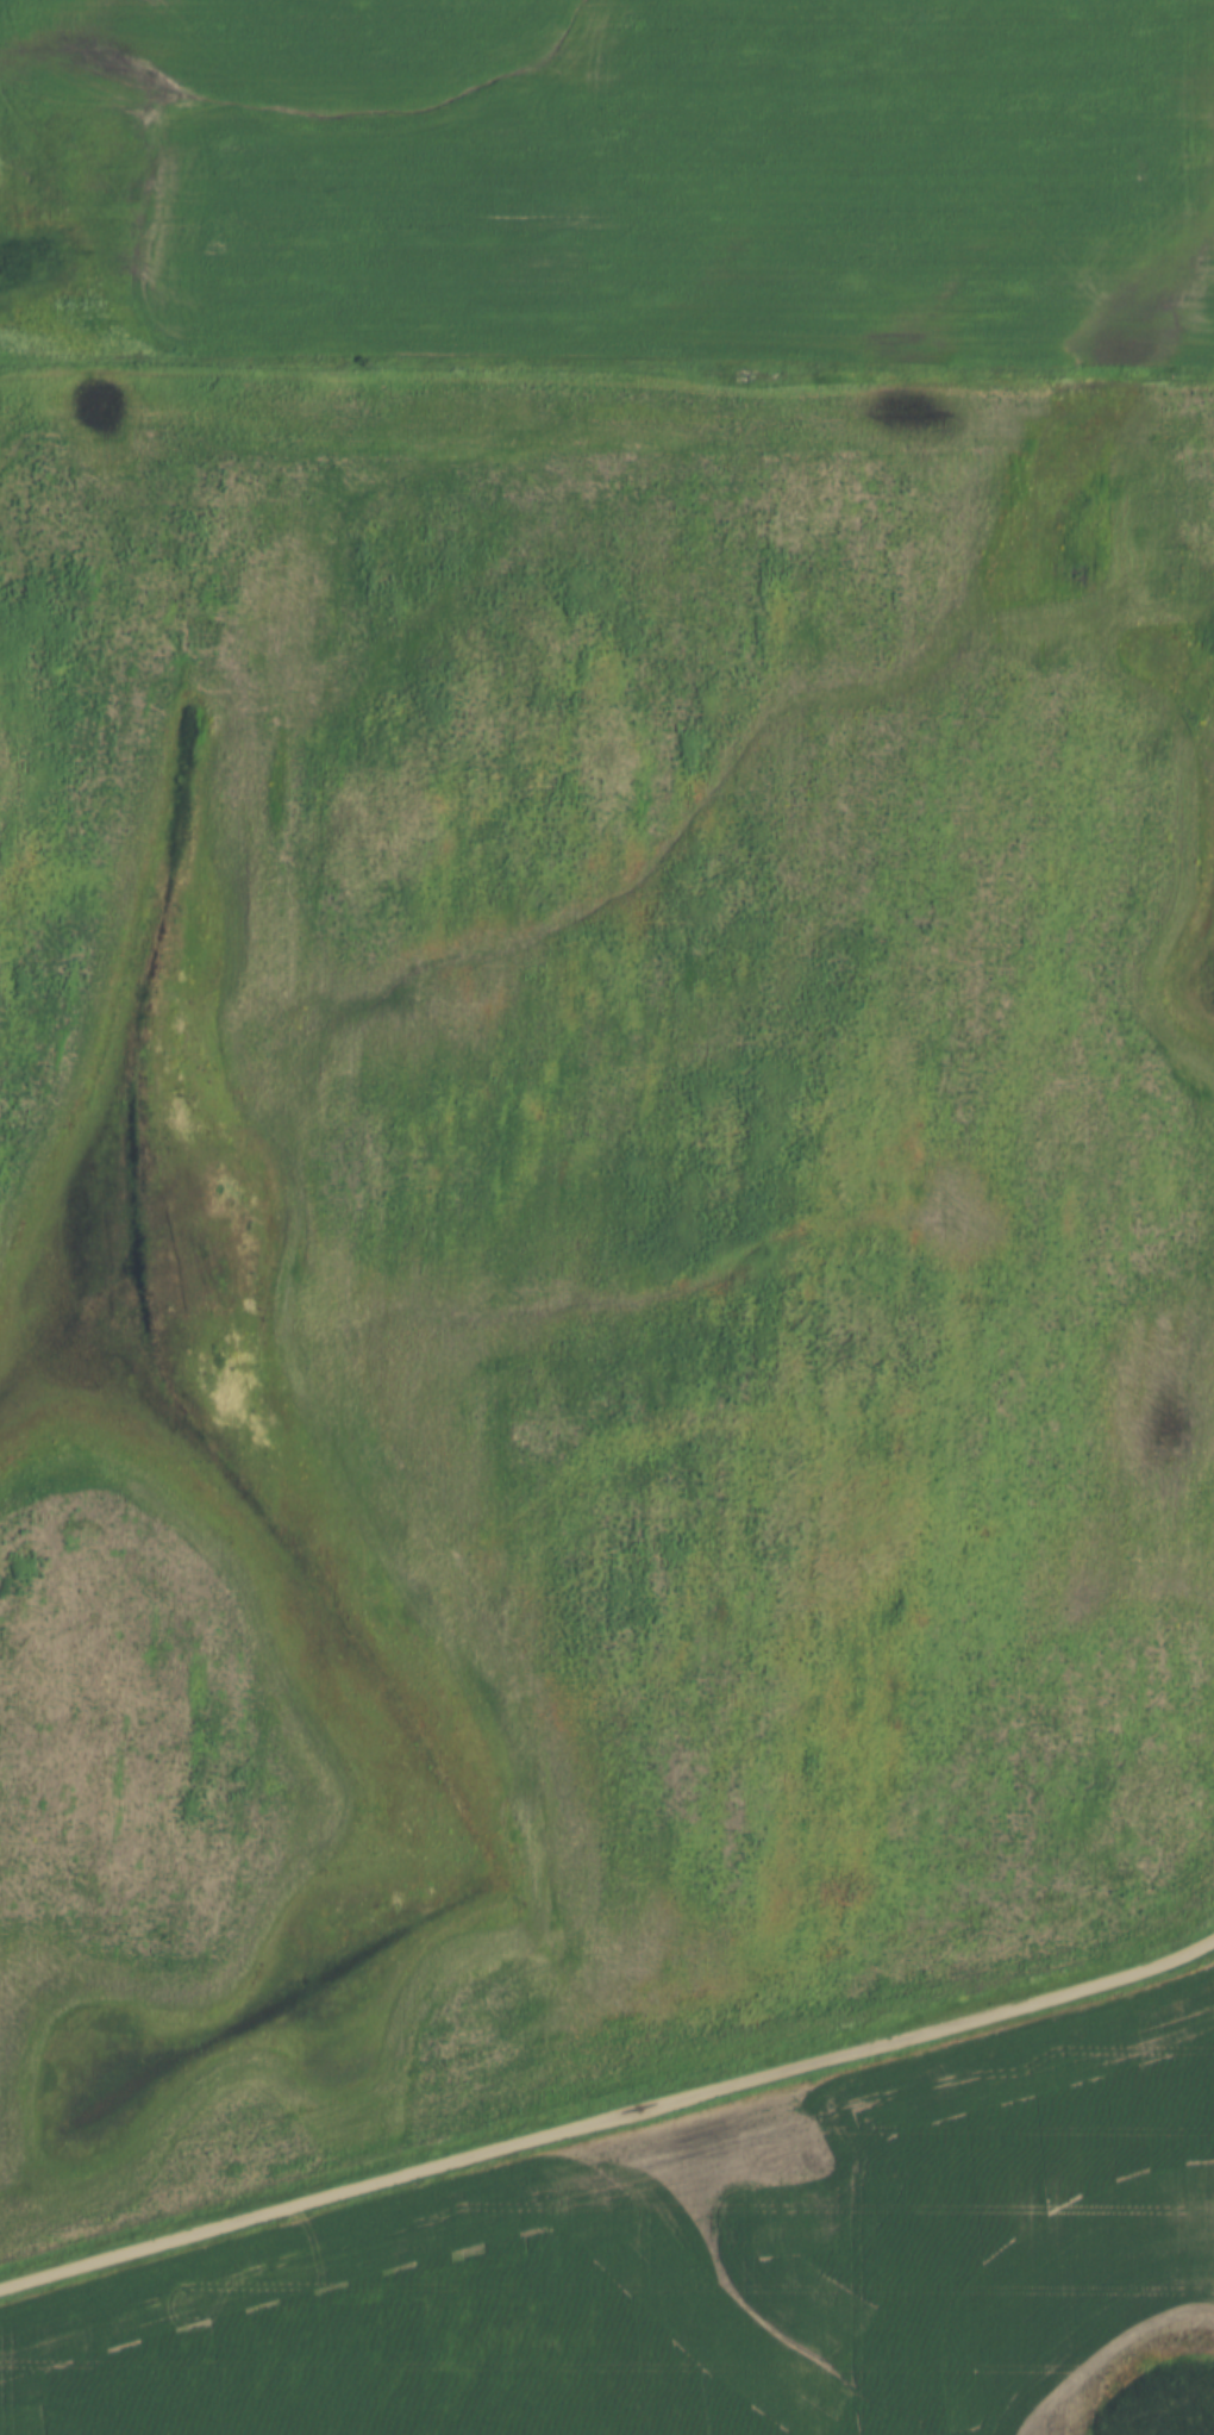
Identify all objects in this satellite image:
road: (607, 2118)

